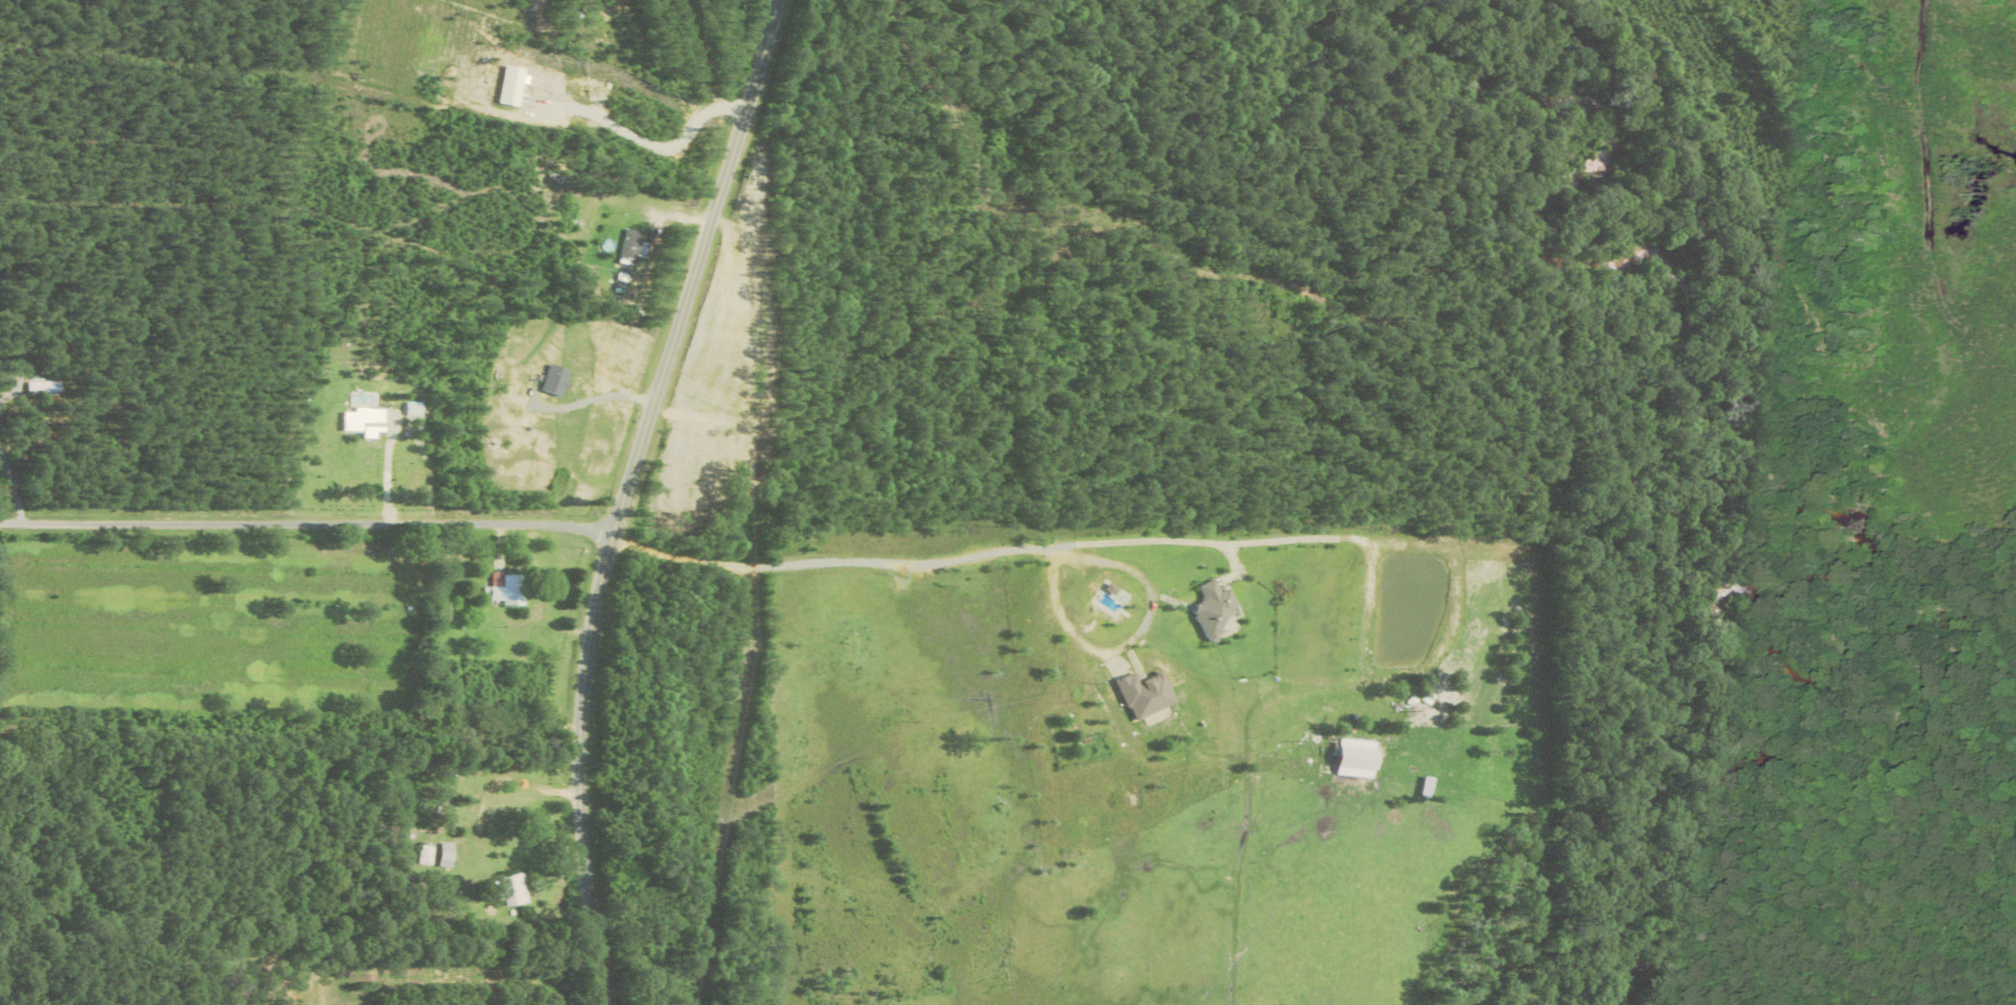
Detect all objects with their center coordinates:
building: (506, 87)
road: (640, 142)
building: (627, 247)
building: (550, 380)
building: (39, 387)
road: (585, 402)
building: (359, 423)
road: (386, 467)
road: (618, 493)
road: (305, 518)
road: (915, 565)
building: (501, 591)
building: (1206, 609)
building: (1138, 694)
building: (1346, 758)
building: (423, 855)
building: (441, 855)
building: (508, 890)

